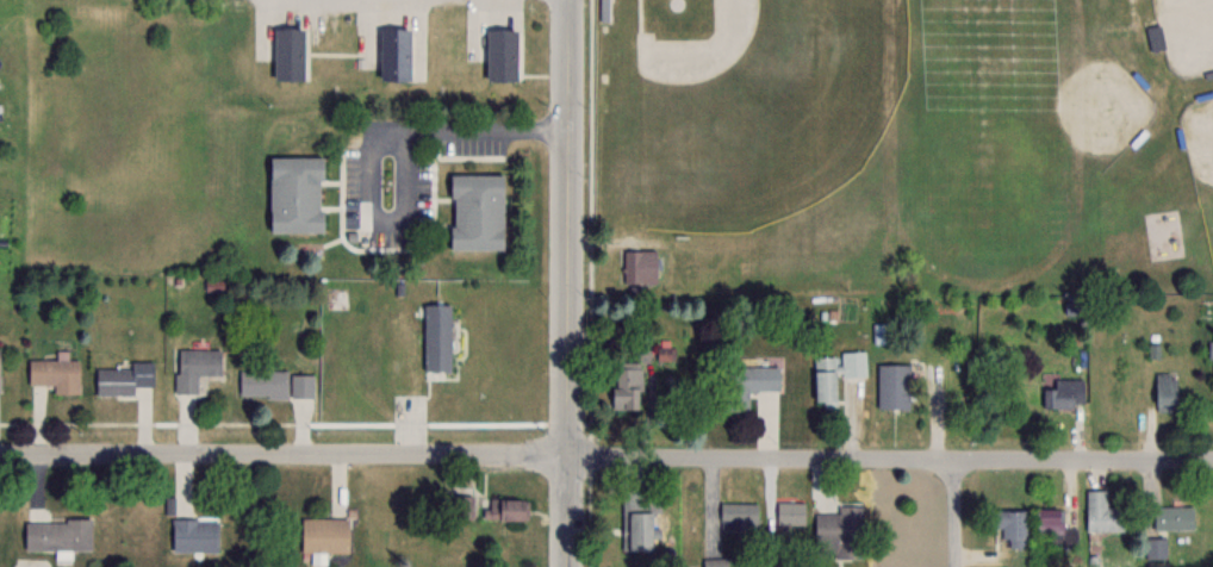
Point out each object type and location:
building: (1155, 37)
building: (286, 54)
building: (392, 54)
building: (499, 54)
park: (734, 105)
road: (372, 131)
building: (293, 194)
building: (475, 212)
building: (639, 266)
road: (568, 282)
building: (436, 337)
building: (1212, 353)
building: (854, 363)
building: (194, 367)
building: (55, 373)
building: (123, 379)
building: (825, 380)
building: (262, 381)
building: (626, 385)
building: (740, 386)
building: (892, 386)
building: (1165, 391)
building: (1064, 394)
road: (605, 460)
building: (458, 507)
building: (499, 510)
building: (790, 511)
building: (739, 513)
road: (952, 513)
building: (1102, 513)
building: (1174, 517)
building: (636, 519)
building: (1012, 528)
building: (1055, 528)
building: (839, 531)
building: (56, 535)
building: (193, 535)
building: (323, 535)
building: (895, 543)
building: (1156, 548)
building: (715, 562)

